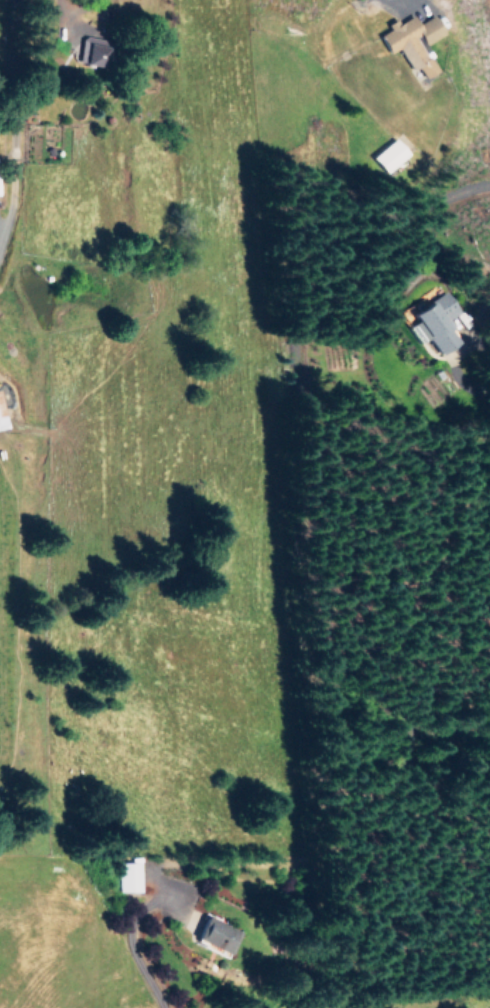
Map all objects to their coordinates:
road: (389, 5)
building: (412, 42)
building: (94, 55)
building: (380, 154)
building: (408, 319)
building: (1, 416)
building: (126, 875)
building: (214, 934)
road: (137, 952)

